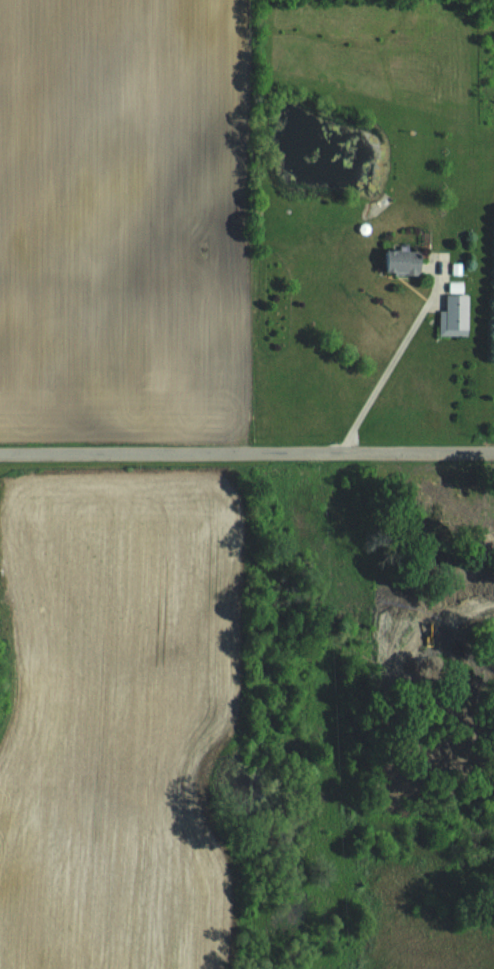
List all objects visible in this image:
building: (405, 261)
building: (455, 315)
road: (383, 369)
road: (246, 451)

